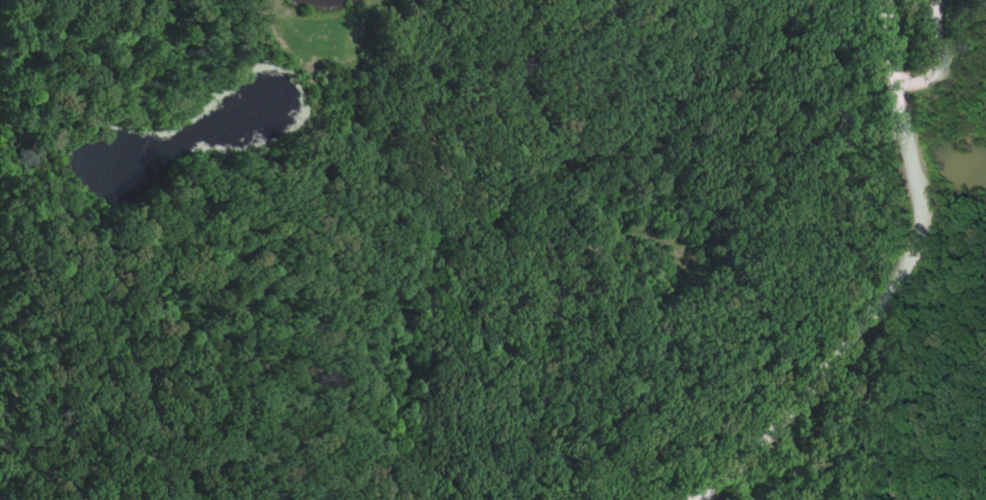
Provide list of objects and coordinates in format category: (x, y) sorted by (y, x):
road: (946, 84)
road: (894, 284)

